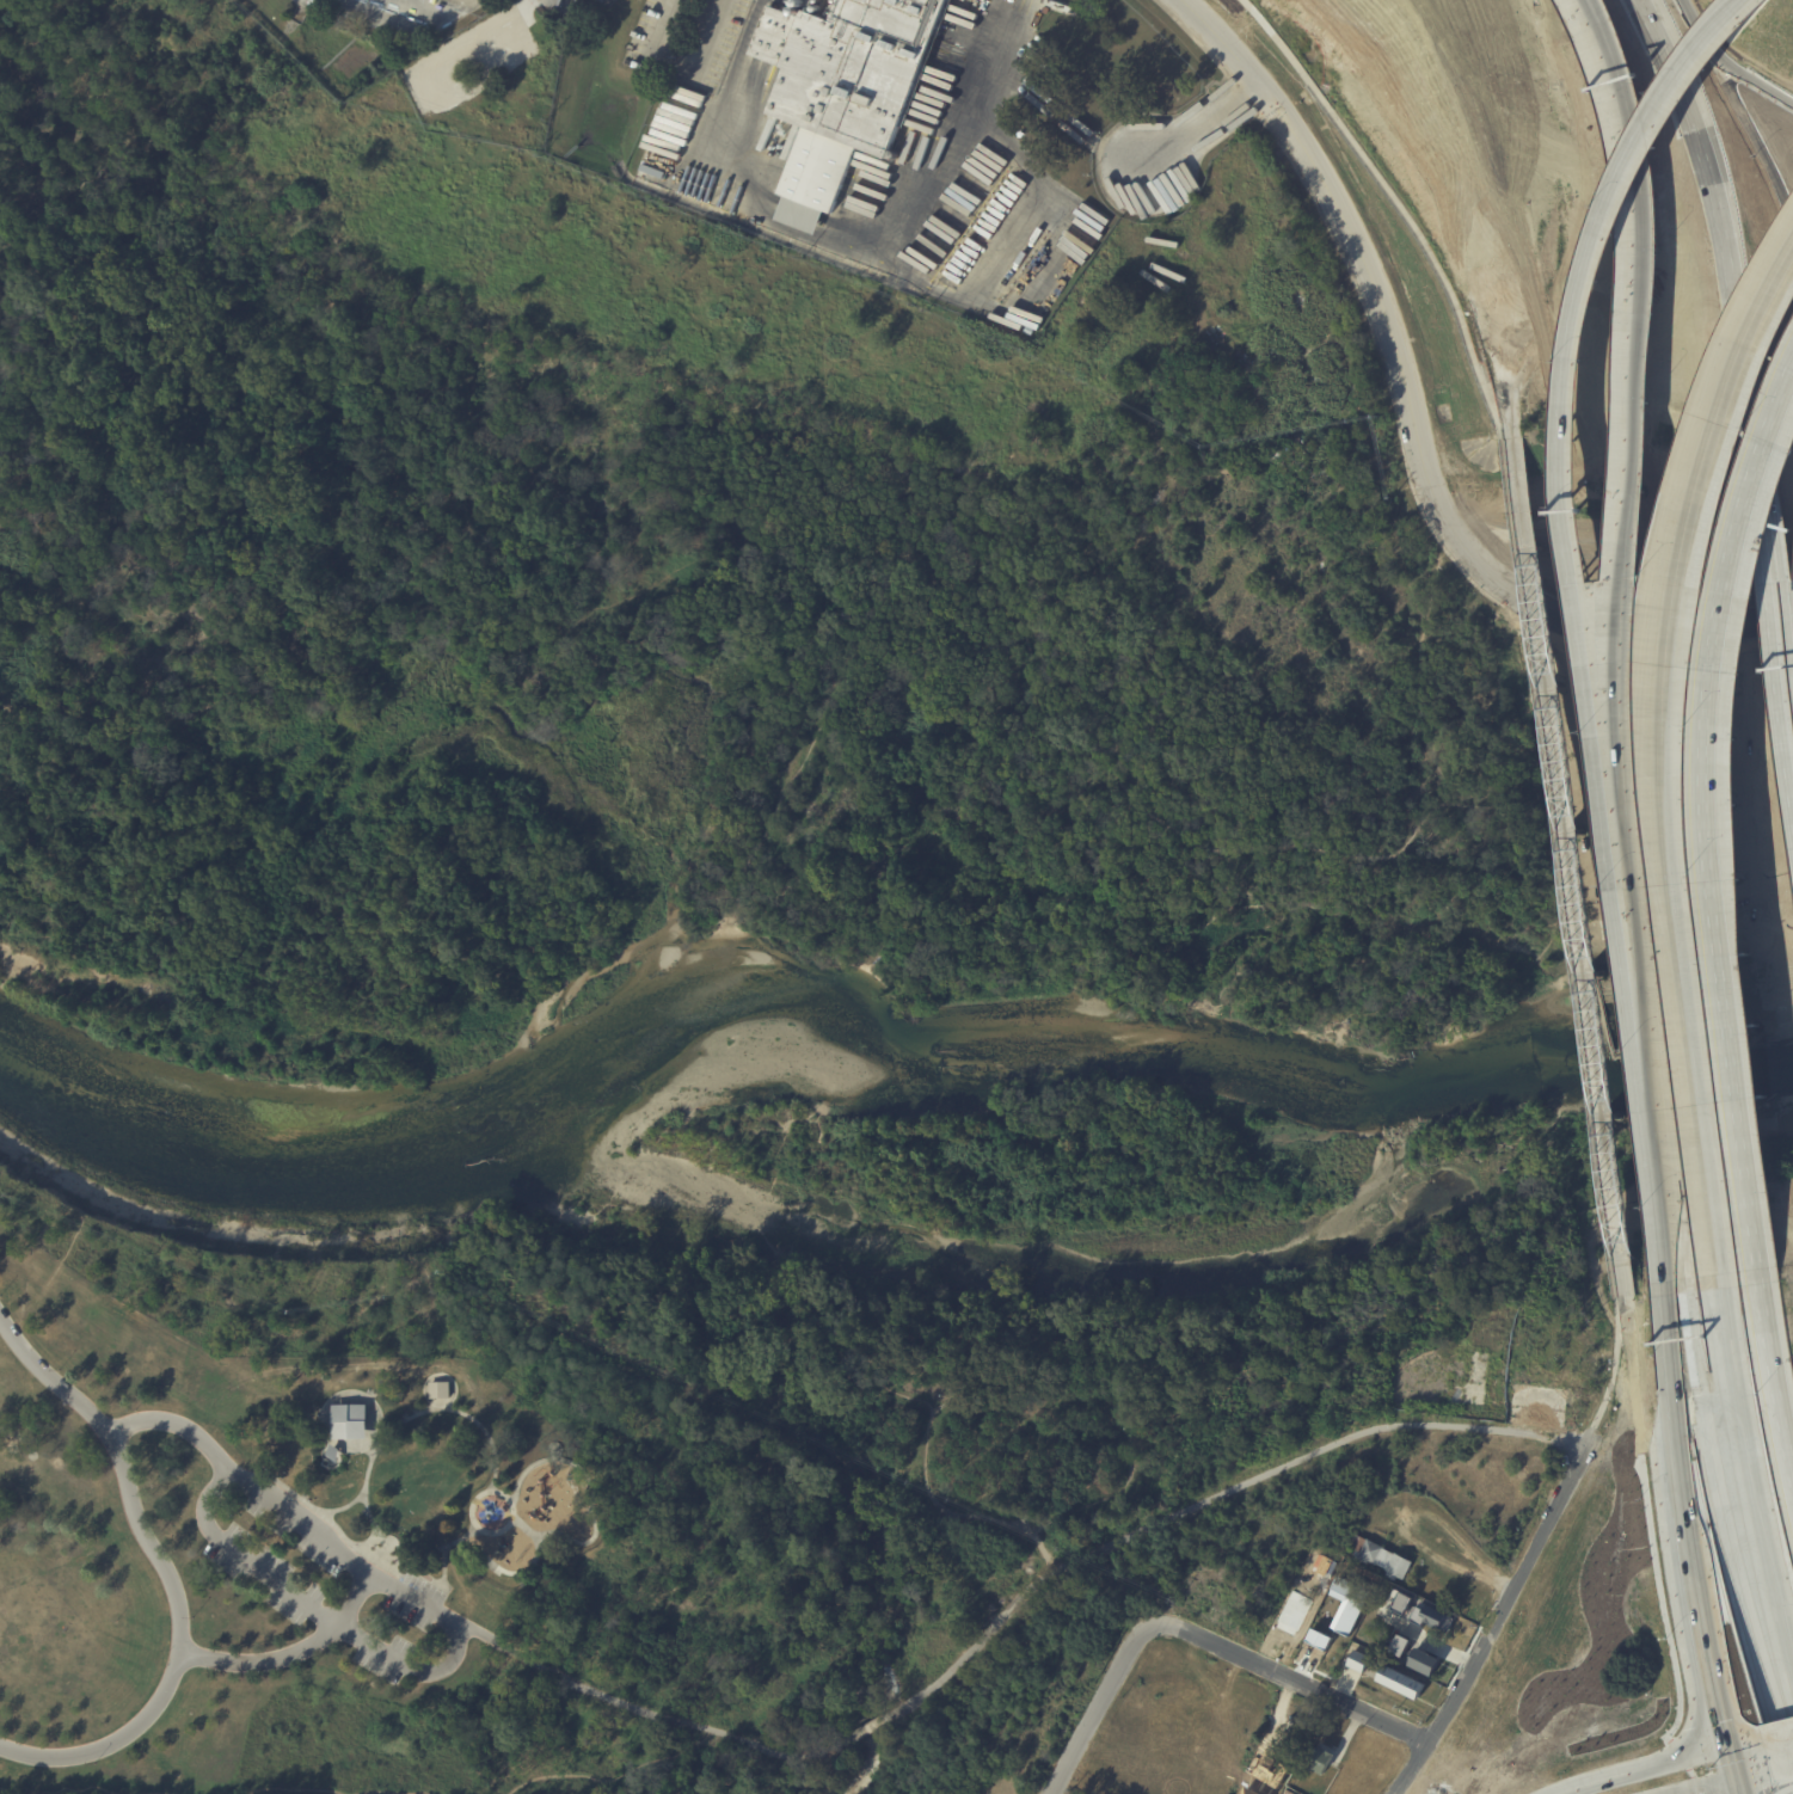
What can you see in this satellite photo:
road: (573, 12)
road: (663, 23)
road: (1696, 29)
road: (708, 36)
road: (1670, 63)
road: (1752, 81)
building: (842, 88)
road: (1241, 94)
road: (1179, 112)
road: (1203, 124)
road: (1757, 152)
road: (1627, 162)
road: (1607, 176)
road: (751, 195)
road: (1398, 203)
road: (1340, 217)
road: (1723, 221)
road: (1494, 312)
road: (1596, 370)
road: (1383, 371)
building: (1603, 400)
road: (1416, 487)
road: (1761, 502)
road: (1561, 554)
road: (1668, 572)
road: (879, 586)
road: (1780, 595)
road: (1582, 609)
road: (1613, 610)
road: (1570, 632)
road: (1419, 652)
road: (1776, 681)
road: (1695, 803)
road: (1558, 867)
river: (848, 1031)
road: (1648, 1077)
road: (1693, 1101)
road: (1611, 1375)
road: (1771, 1377)
road: (50, 1378)
building: (440, 1389)
road: (1676, 1391)
building: (350, 1421)
road: (1401, 1430)
road: (1610, 1440)
street lamp: (363, 1461)
road: (1750, 1481)
park: (645, 1486)
road: (1218, 1493)
road: (1724, 1504)
street lamp: (239, 1515)
road: (311, 1530)
parking lot: (293, 1536)
road: (1689, 1554)
building: (1381, 1558)
road: (1459, 1559)
street lamp: (309, 1566)
road: (1662, 1566)
parking lot: (264, 1573)
road: (1040, 1574)
parking lot: (415, 1599)
building: (1399, 1599)
street lamp: (369, 1610)
road: (321, 1612)
building: (1418, 1620)
road: (1494, 1623)
road: (1705, 1636)
street lamp: (425, 1644)
building: (1399, 1645)
road: (178, 1648)
parking lot: (387, 1655)
road: (290, 1658)
building: (1358, 1660)
building: (1402, 1660)
building: (1423, 1661)
building: (1400, 1682)
road: (1303, 1683)
road: (1106, 1698)
road: (1721, 1716)
road: (674, 1718)
road: (870, 1725)
road: (1780, 1739)
road: (1748, 1747)
traffic signals: (1728, 1752)
building: (1322, 1757)
road: (1590, 1763)
road: (1732, 1769)
road: (1783, 1774)
road: (609, 1775)
road: (1654, 1775)
road: (1756, 1781)
traffic signals: (1737, 1786)
road: (1726, 1789)
road: (1738, 1789)
road: (1785, 1789)
road: (109, 1790)
road: (343, 1792)
road: (8, 1793)
road: (1777, 1793)

